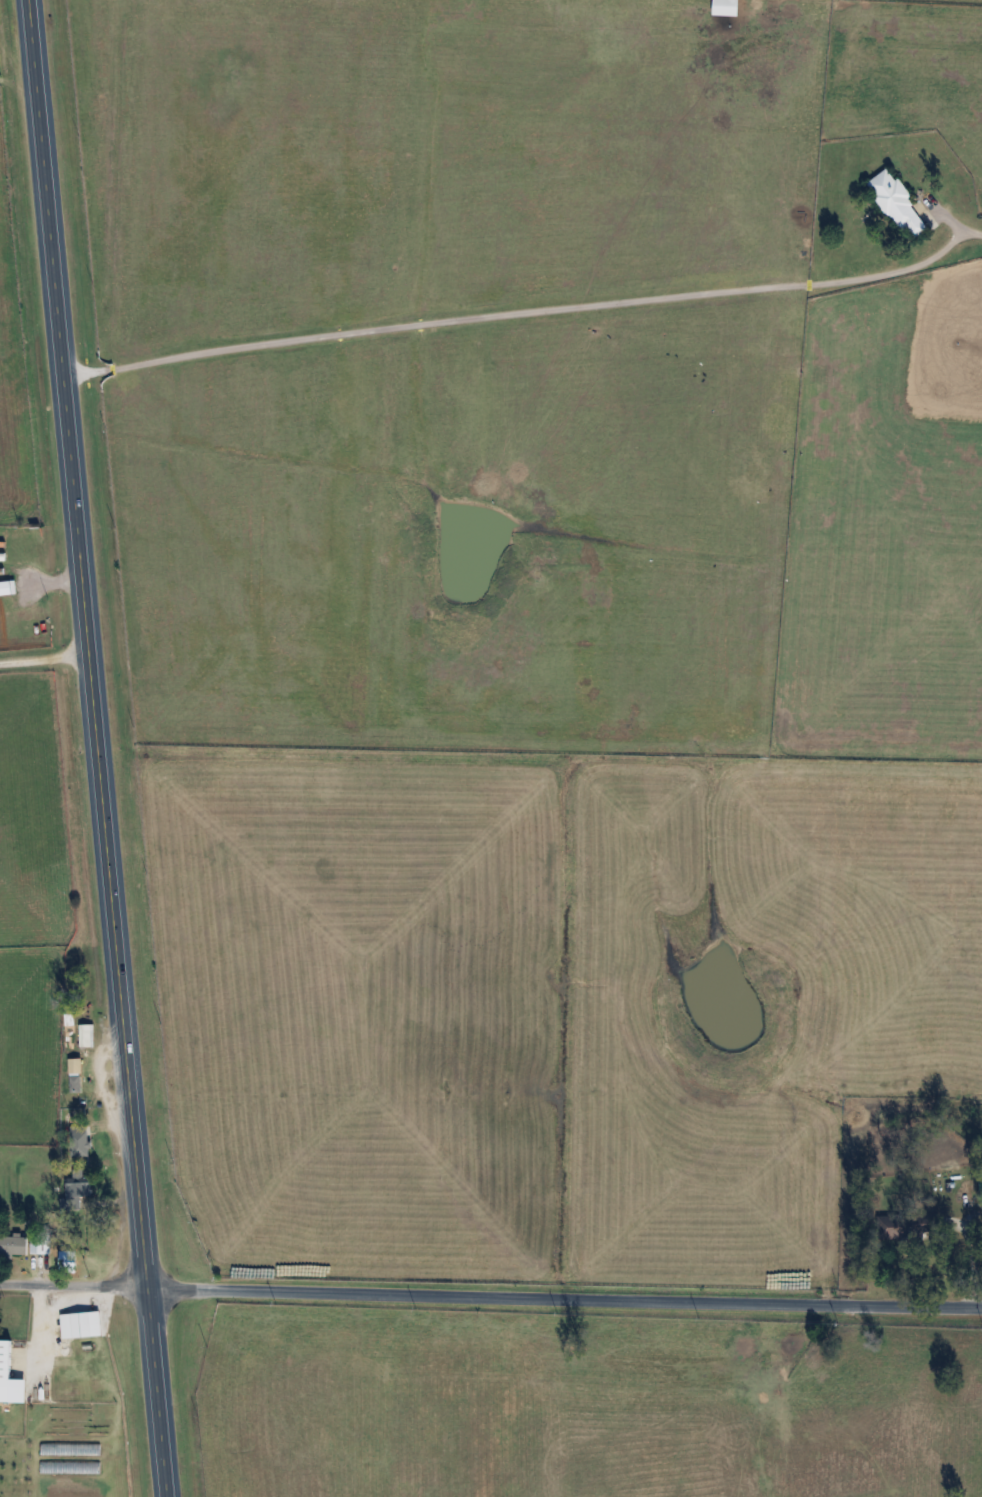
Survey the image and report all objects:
building: (725, 7)
building: (898, 204)
road: (527, 308)
building: (6, 587)
road: (44, 657)
road: (96, 748)
building: (75, 1075)
building: (79, 1141)
building: (76, 1196)
building: (909, 1226)
building: (22, 1244)
building: (68, 1259)
road: (73, 1284)
road: (564, 1299)
building: (80, 1325)
road: (38, 1329)
building: (8, 1379)

